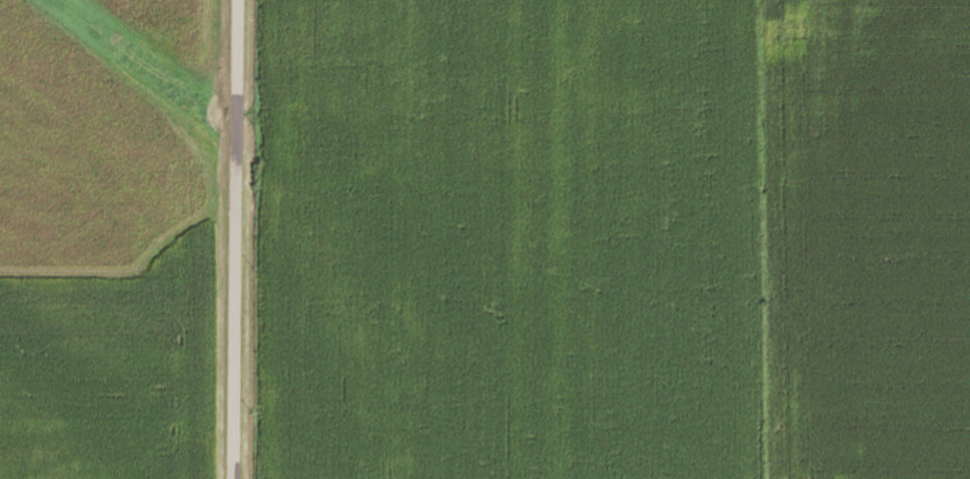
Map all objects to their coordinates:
road: (236, 239)

